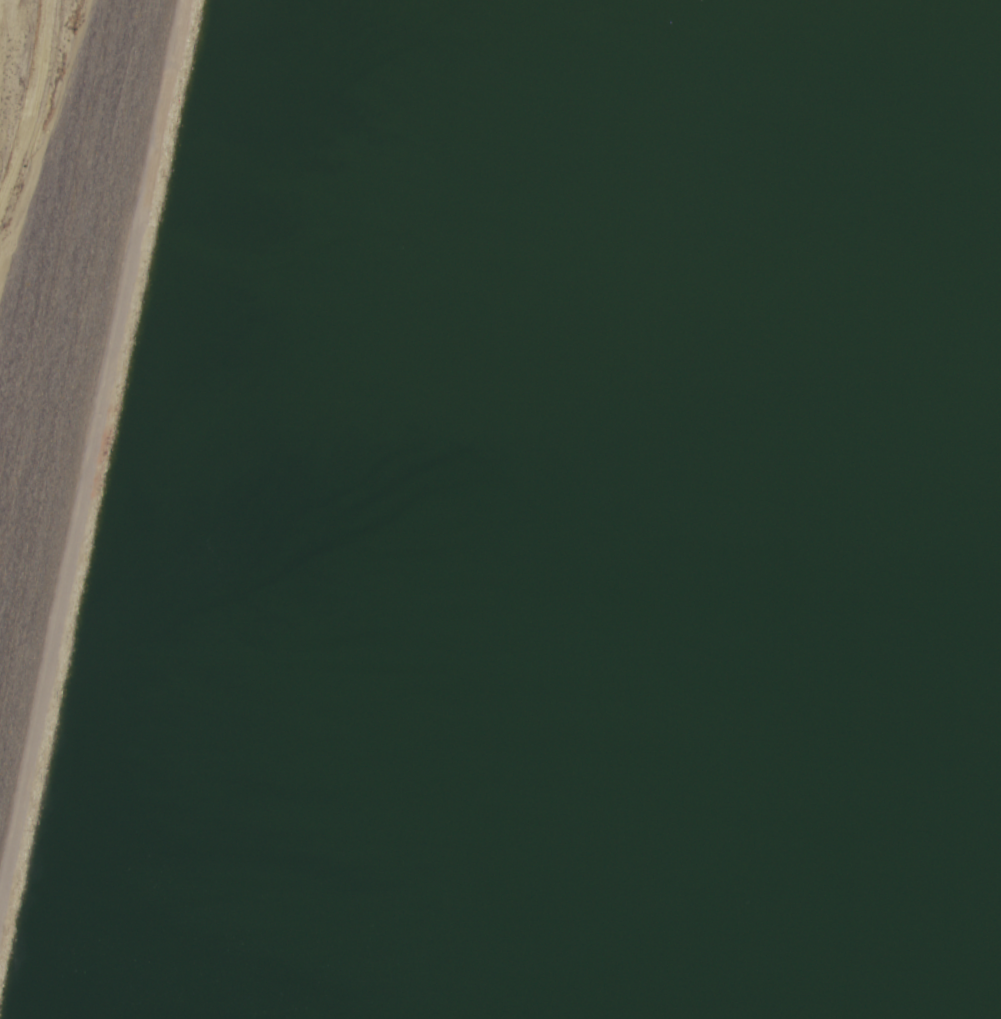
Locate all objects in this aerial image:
road: (33, 108)
road: (92, 487)
dam: (123, 509)

